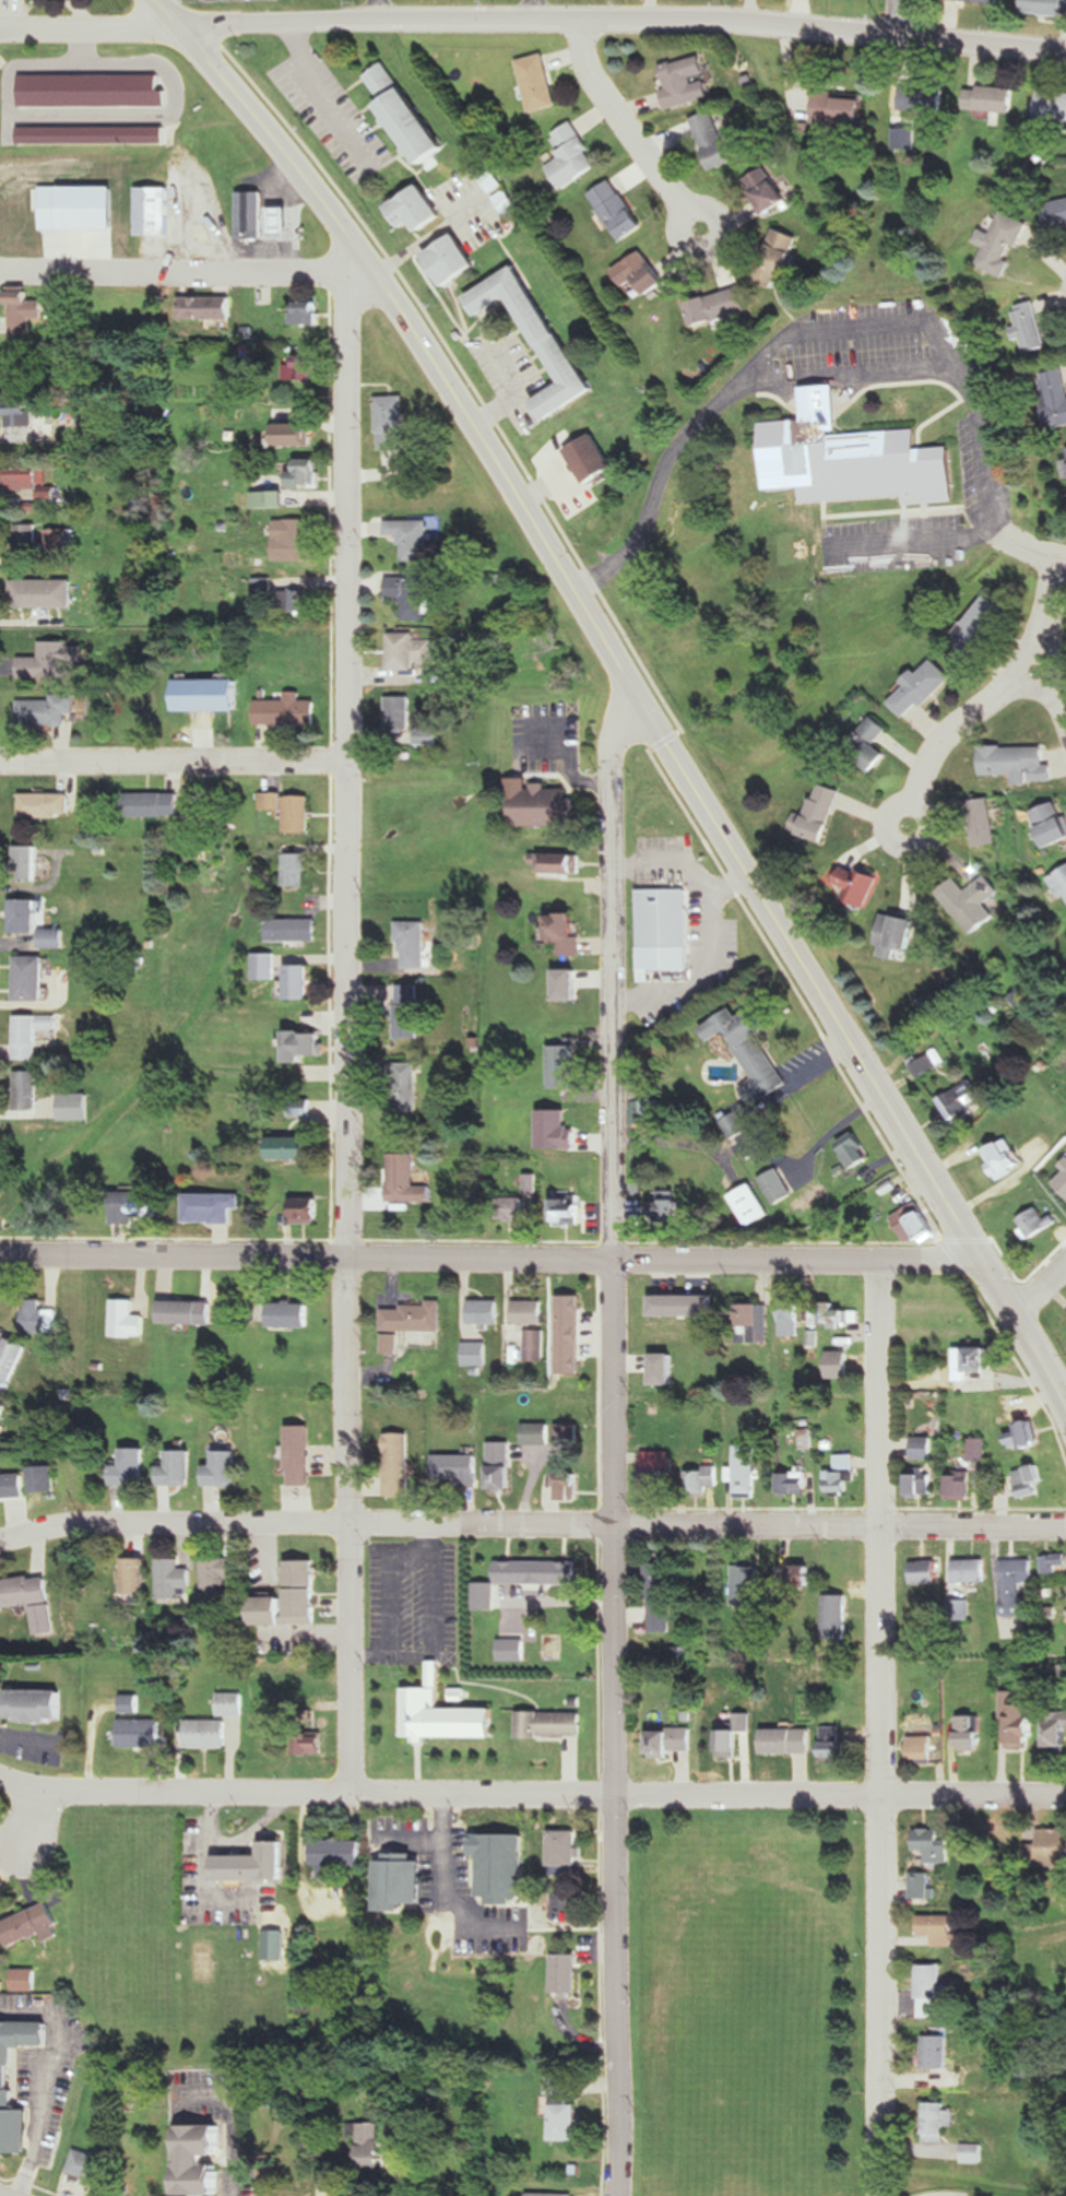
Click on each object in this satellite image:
building: (975, 1)
building: (1044, 8)
road: (903, 16)
road: (621, 20)
road: (88, 29)
building: (685, 82)
building: (540, 84)
building: (923, 99)
building: (990, 99)
building: (841, 109)
building: (1051, 110)
building: (404, 114)
road: (271, 130)
road: (631, 131)
building: (102, 139)
building: (713, 141)
building: (575, 157)
building: (491, 179)
building: (766, 190)
building: (507, 202)
building: (79, 209)
building: (417, 210)
building: (619, 210)
building: (153, 212)
building: (1056, 214)
building: (250, 215)
building: (282, 222)
building: (1000, 244)
building: (773, 258)
building: (452, 260)
road: (188, 270)
building: (642, 276)
building: (206, 306)
building: (716, 307)
building: (23, 309)
building: (307, 312)
building: (1028, 326)
road: (801, 330)
building: (538, 338)
parking lot: (862, 347)
building: (27, 367)
building: (301, 368)
road: (851, 374)
building: (1057, 395)
building: (22, 420)
building: (391, 422)
building: (293, 434)
building: (849, 459)
building: (592, 460)
parking lot: (983, 469)
building: (307, 474)
building: (25, 477)
building: (265, 499)
building: (410, 538)
building: (26, 540)
building: (295, 541)
road: (914, 542)
parking lot: (892, 543)
road: (1030, 550)
building: (42, 592)
building: (413, 595)
building: (301, 602)
road: (589, 610)
building: (982, 625)
road: (1042, 647)
building: (408, 650)
building: (48, 661)
building: (922, 688)
building: (205, 694)
building: (45, 711)
building: (285, 711)
building: (396, 713)
road: (952, 732)
building: (870, 745)
road: (347, 760)
road: (174, 761)
building: (1018, 763)
building: (153, 804)
building: (46, 805)
building: (546, 806)
building: (289, 810)
building: (822, 812)
building: (980, 823)
building: (1051, 824)
building: (26, 863)
building: (564, 863)
building: (298, 869)
building: (1059, 883)
building: (858, 885)
building: (970, 901)
building: (663, 917)
building: (34, 923)
building: (294, 930)
building: (567, 932)
building: (897, 934)
building: (414, 944)
building: (667, 961)
building: (265, 965)
building: (29, 977)
building: (301, 981)
building: (1021, 1002)
building: (408, 1011)
building: (31, 1034)
building: (307, 1043)
building: (749, 1051)
building: (924, 1064)
building: (565, 1065)
building: (405, 1087)
building: (27, 1089)
building: (959, 1100)
building: (73, 1106)
building: (298, 1107)
road: (902, 1134)
building: (288, 1147)
building: (855, 1149)
building: (1002, 1158)
building: (405, 1180)
building: (1062, 1183)
building: (777, 1185)
building: (751, 1205)
building: (670, 1206)
building: (133, 1207)
building: (211, 1207)
building: (511, 1208)
building: (569, 1209)
building: (307, 1211)
building: (1035, 1223)
building: (913, 1224)
road: (625, 1247)
road: (179, 1254)
road: (666, 1260)
road: (1039, 1286)
building: (577, 1302)
building: (484, 1311)
building: (181, 1312)
building: (528, 1312)
building: (291, 1315)
building: (838, 1315)
building: (39, 1317)
building: (414, 1318)
building: (128, 1319)
building: (790, 1320)
building: (744, 1325)
building: (475, 1354)
building: (12, 1359)
road: (1039, 1360)
building: (972, 1362)
building: (838, 1365)
building: (679, 1370)
road: (962, 1385)
building: (2, 1409)
building: (536, 1435)
building: (567, 1435)
building: (1022, 1437)
building: (922, 1448)
building: (978, 1450)
building: (300, 1455)
building: (398, 1464)
building: (131, 1468)
building: (457, 1468)
building: (176, 1469)
building: (221, 1469)
building: (745, 1472)
building: (658, 1473)
building: (842, 1475)
building: (42, 1479)
building: (701, 1480)
building: (1031, 1481)
building: (794, 1483)
building: (921, 1484)
building: (12, 1486)
building: (568, 1487)
building: (960, 1487)
road: (532, 1525)
road: (358, 1526)
building: (1054, 1566)
building: (970, 1570)
building: (927, 1571)
building: (218, 1575)
building: (797, 1575)
building: (171, 1578)
building: (133, 1580)
building: (746, 1586)
building: (1018, 1587)
building: (485, 1596)
building: (292, 1597)
building: (660, 1597)
building: (29, 1599)
building: (567, 1604)
building: (961, 1608)
building: (837, 1616)
building: (554, 1646)
building: (513, 1650)
building: (229, 1703)
building: (36, 1705)
building: (446, 1714)
building: (552, 1724)
building: (1024, 1725)
road: (878, 1727)
building: (1056, 1731)
building: (970, 1732)
building: (140, 1733)
building: (205, 1734)
building: (730, 1738)
building: (673, 1740)
building: (787, 1742)
building: (312, 1744)
building: (834, 1744)
building: (921, 1749)
road: (175, 1794)
road: (488, 1794)
road: (843, 1794)
road: (45, 1822)
building: (932, 1844)
building: (565, 1847)
building: (1049, 1850)
building: (340, 1852)
building: (254, 1865)
building: (401, 1881)
building: (922, 1887)
building: (273, 1916)
building: (31, 1926)
building: (938, 1929)
building: (566, 1974)
building: (24, 1980)
building: (932, 1991)
road: (624, 1994)
park: (749, 2007)
building: (938, 2052)
building: (8, 2078)
road: (54, 2079)
building: (273, 2095)
building: (562, 2110)
road: (232, 2118)
building: (939, 2122)
building: (371, 2145)
building: (972, 2153)
building: (201, 2161)
building: (87, 2175)
road: (28, 2184)
building: (324, 2186)
building: (536, 2195)

